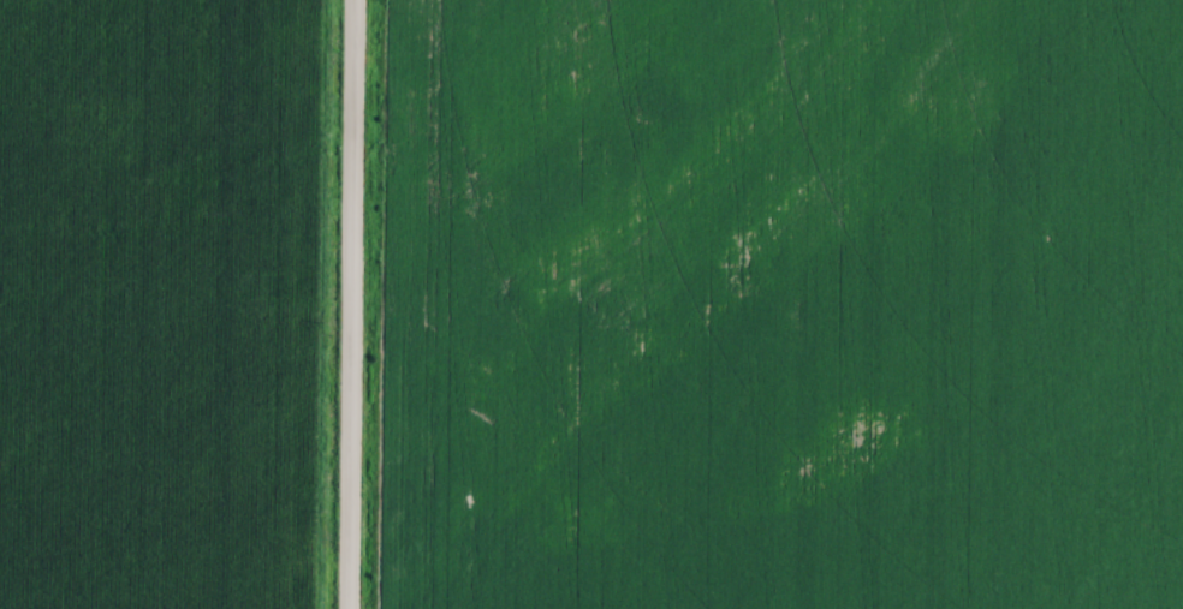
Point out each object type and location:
road: (349, 304)

